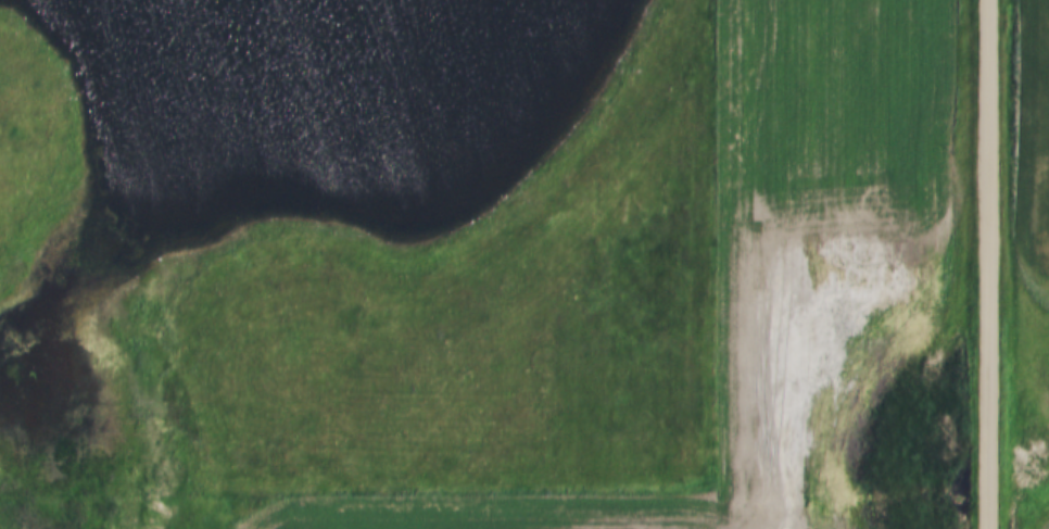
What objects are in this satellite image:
road: (987, 264)

